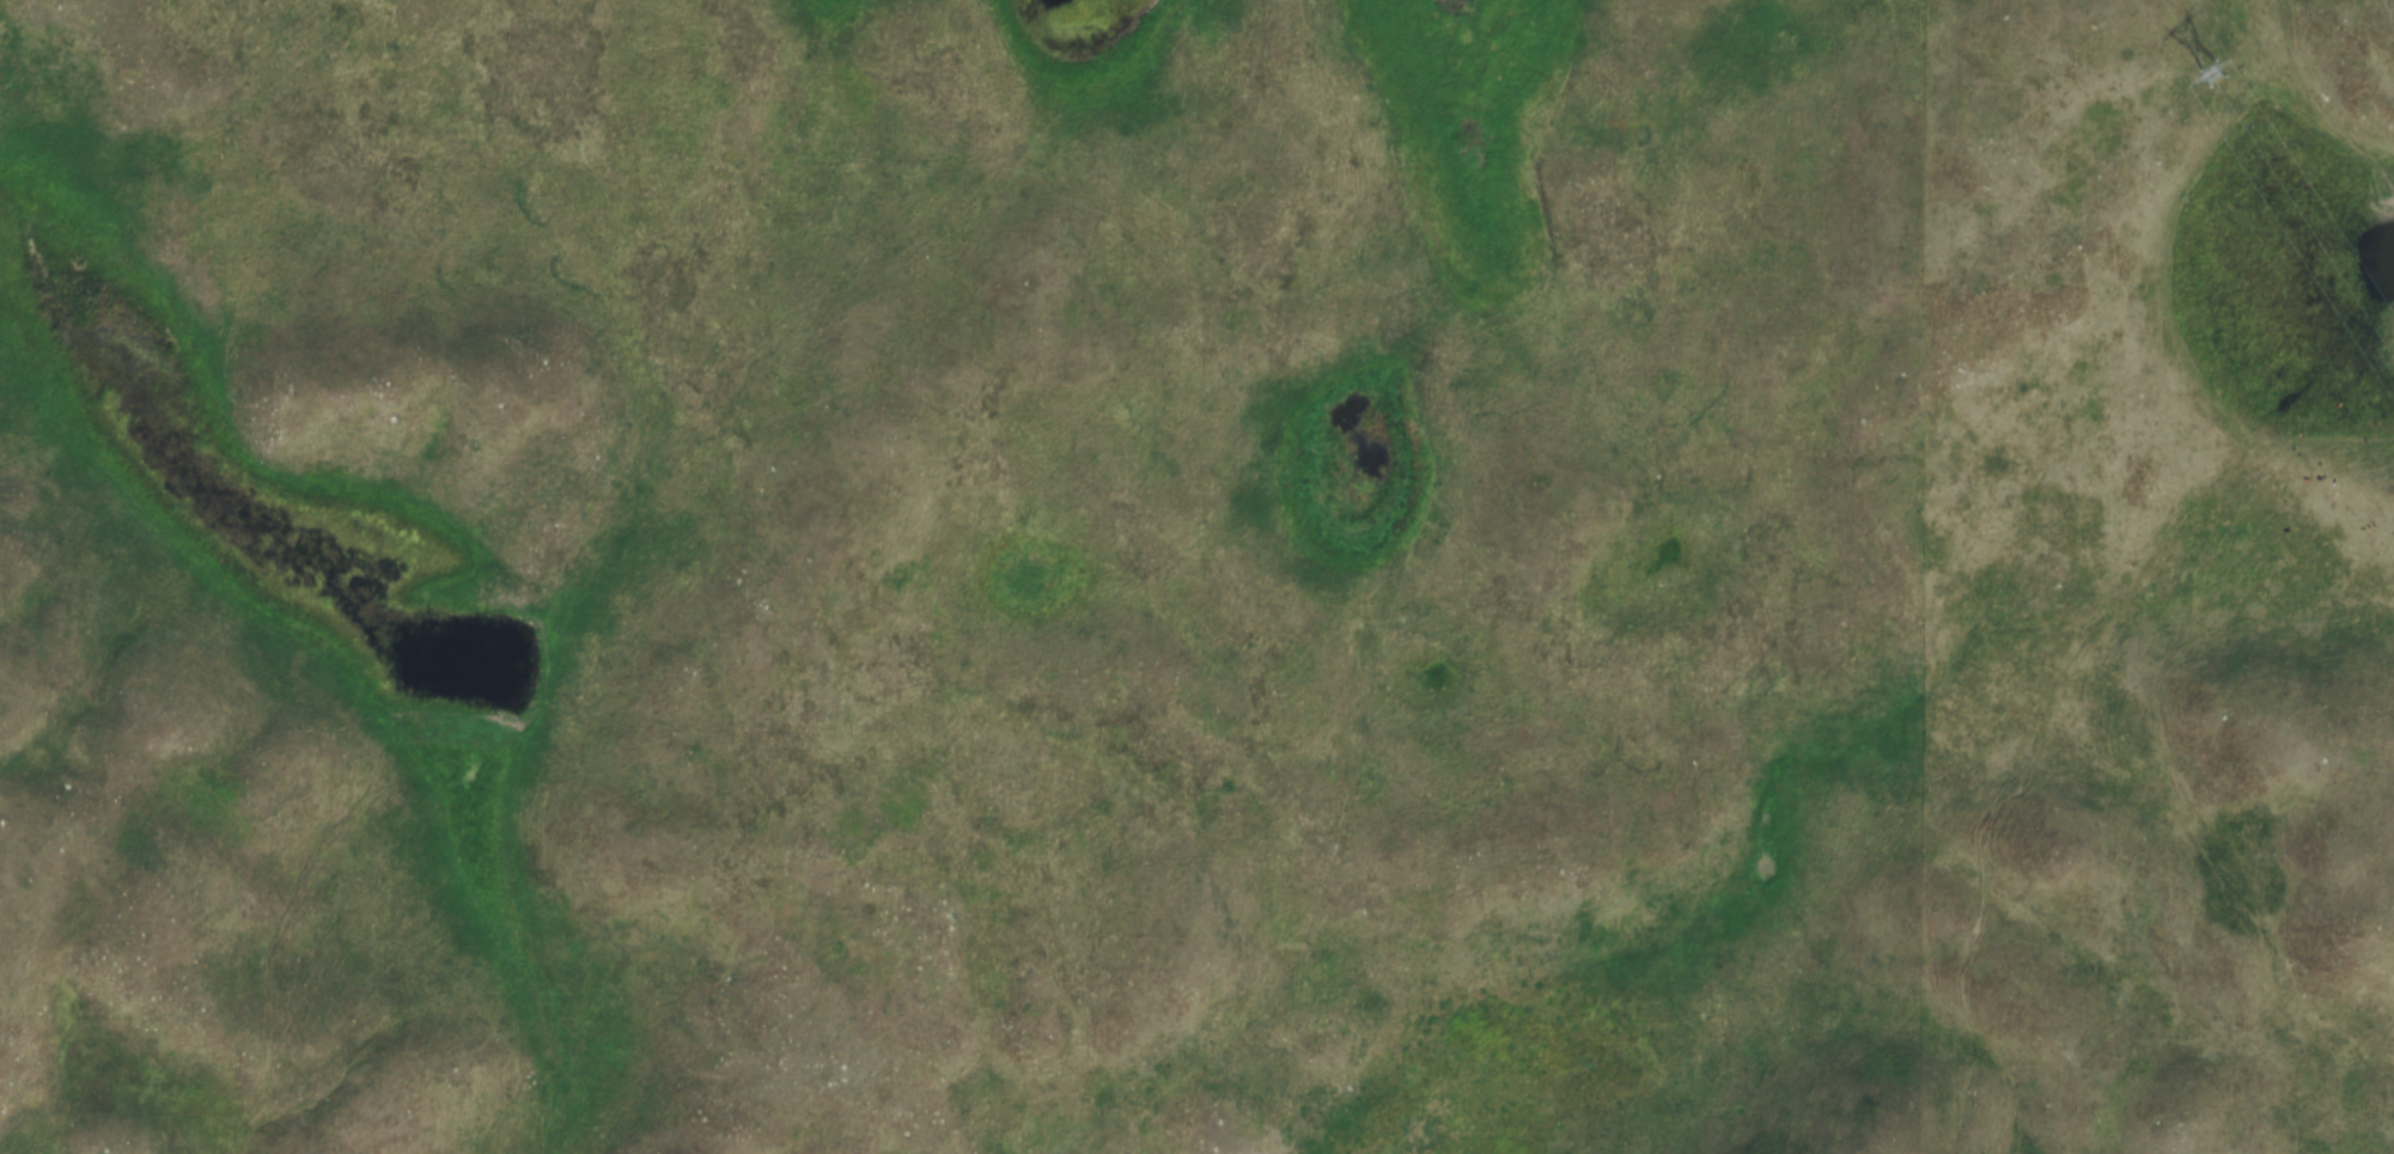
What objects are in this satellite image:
power tower: (2204, 75)

